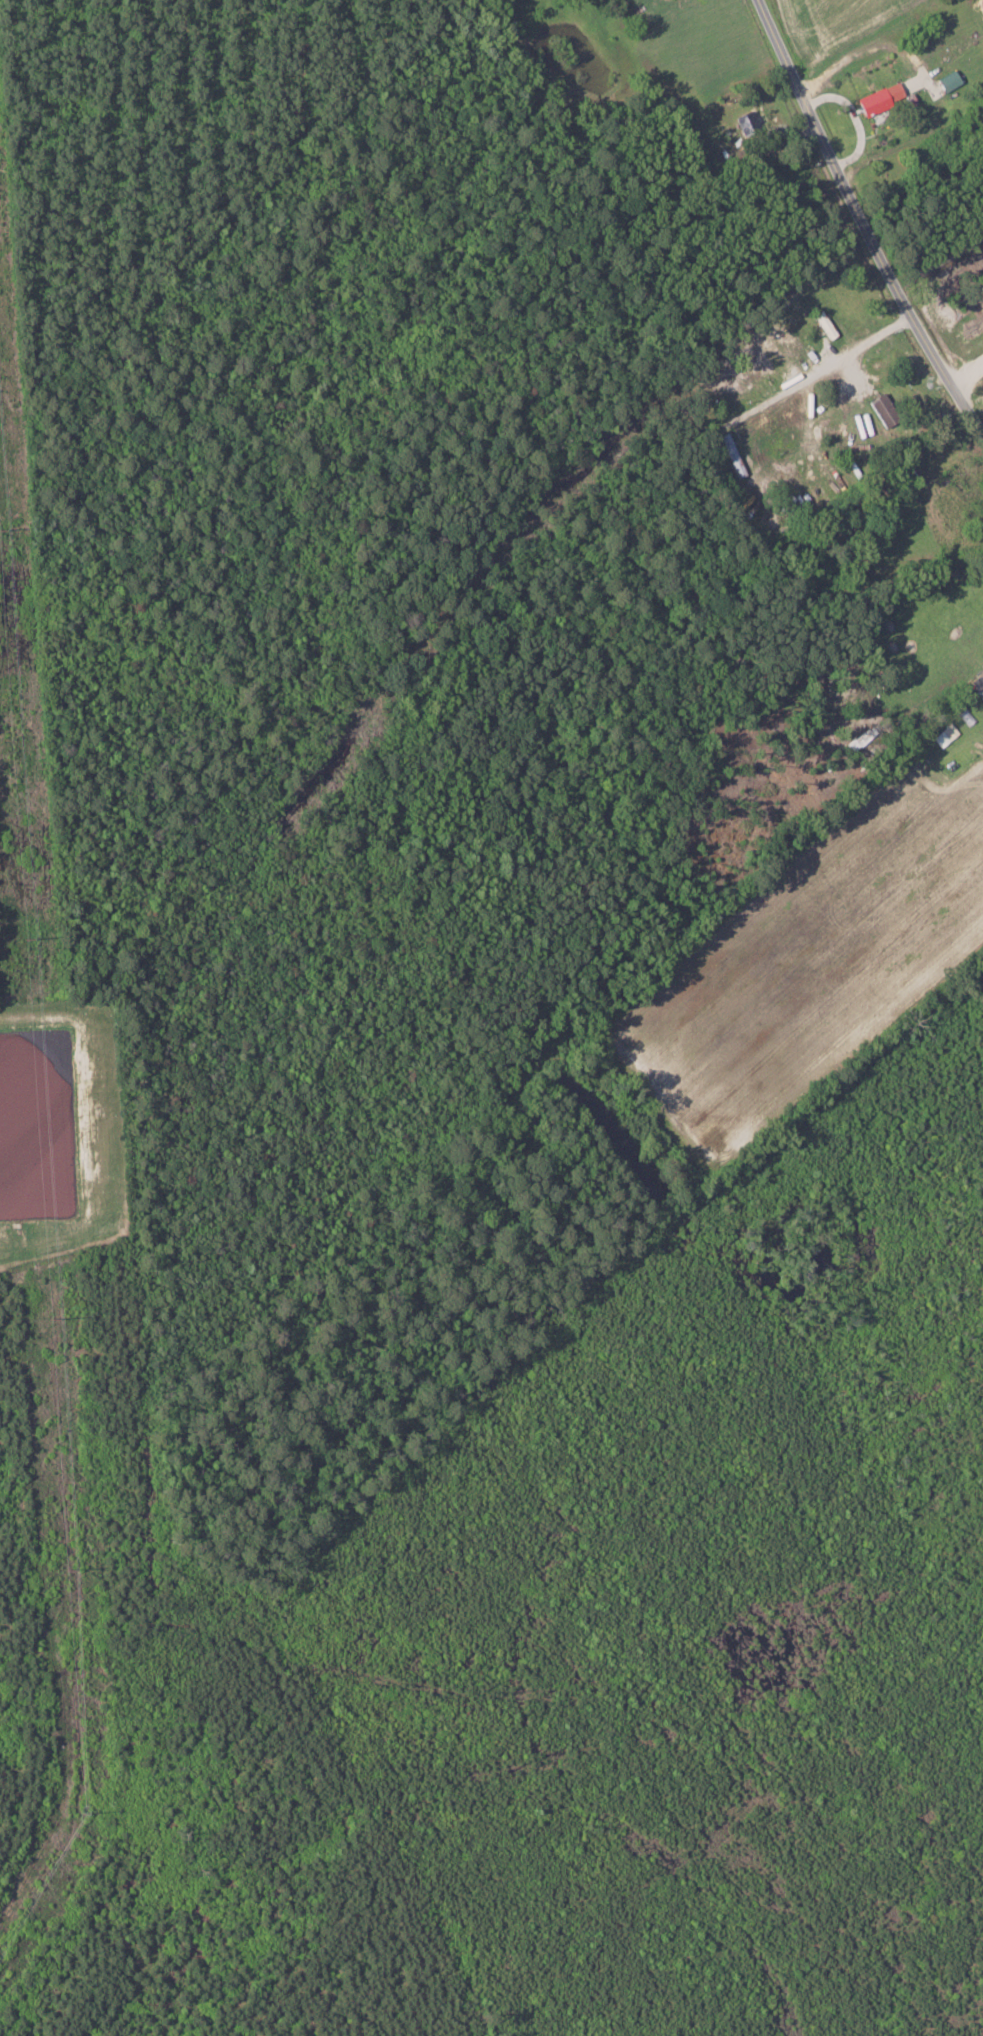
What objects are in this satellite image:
building: (948, 81)
building: (879, 99)
road: (862, 221)
building: (825, 324)
building: (884, 412)
building: (733, 455)
power tower: (0, 529)
road: (734, 538)
building: (978, 685)
power tower: (27, 938)
power tower: (53, 1319)
power tower: (71, 1567)
power tower: (81, 1816)

